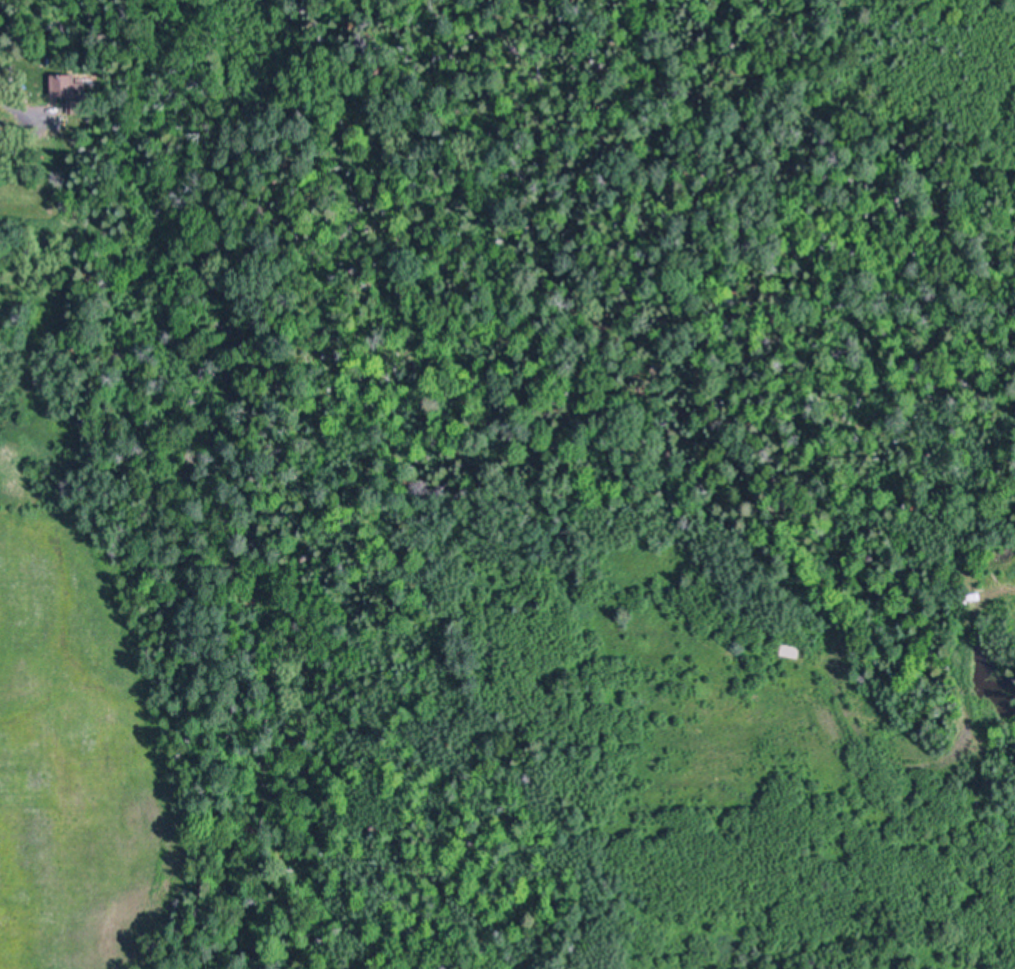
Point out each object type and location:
building: (73, 92)
building: (791, 648)

